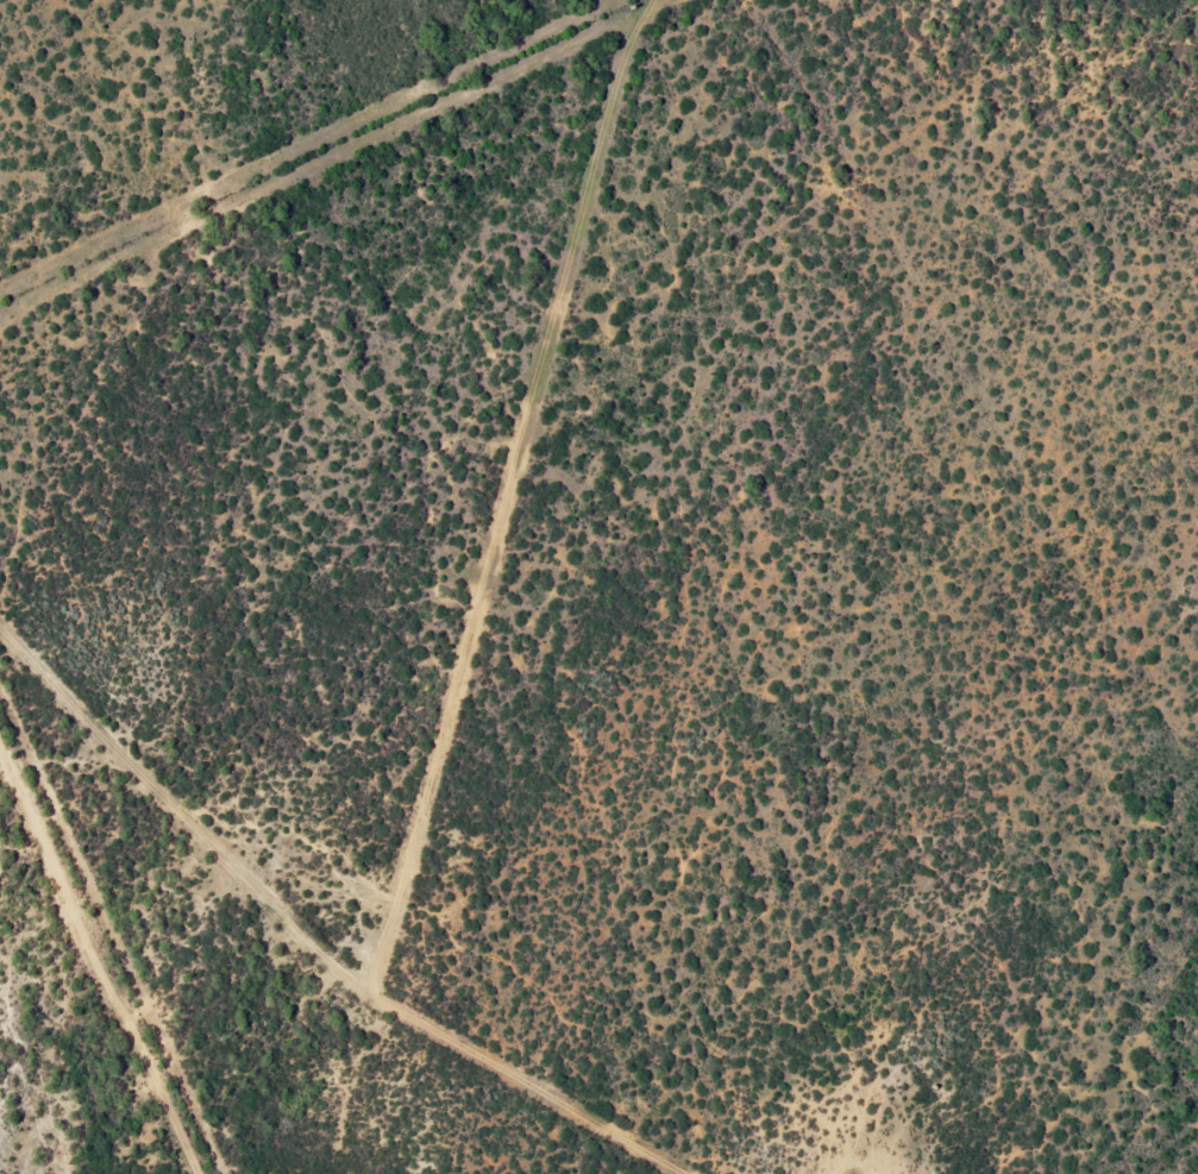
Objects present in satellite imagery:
road: (301, 942)

